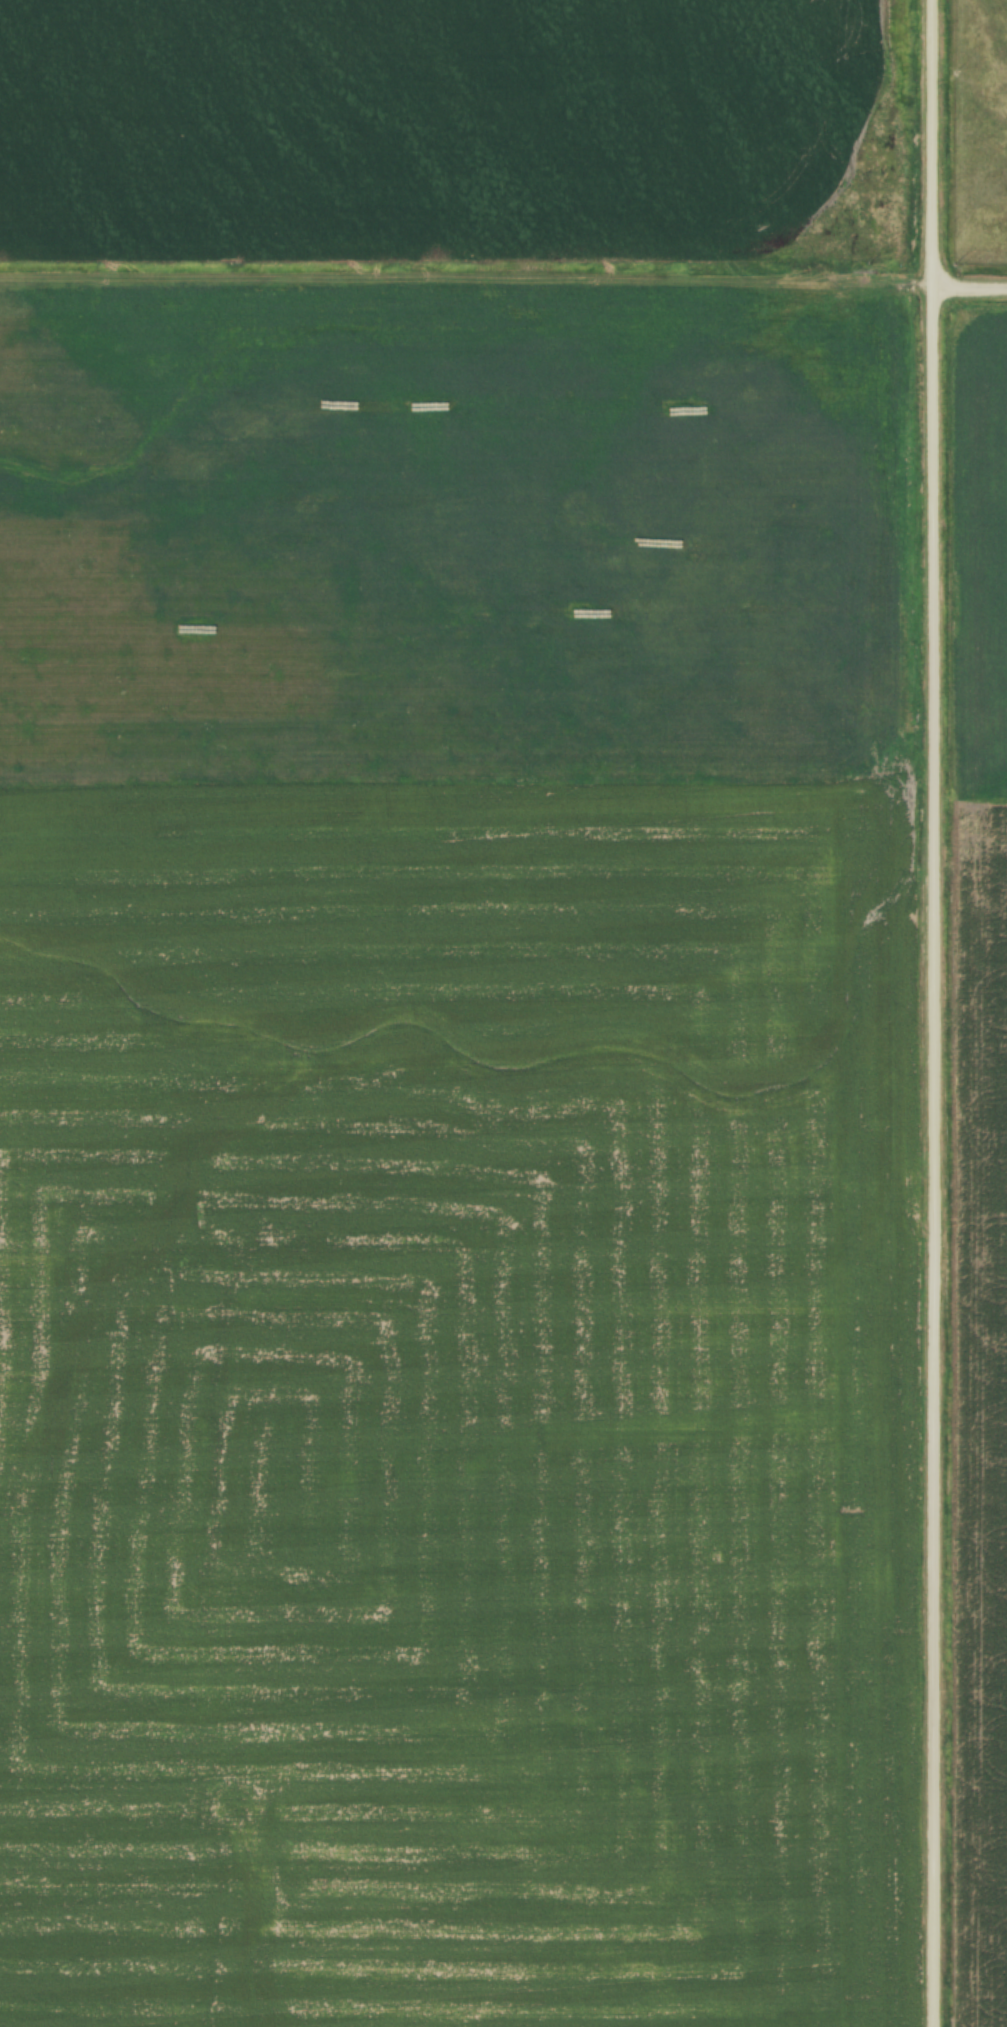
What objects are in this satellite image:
road: (969, 295)
road: (466, 299)
building: (407, 406)
building: (687, 406)
road: (933, 1013)

